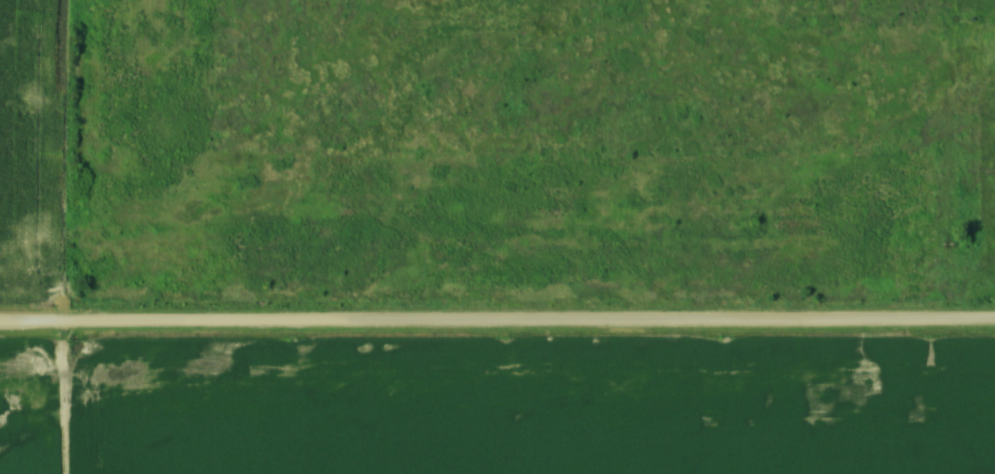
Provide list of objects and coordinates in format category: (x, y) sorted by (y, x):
road: (497, 320)

